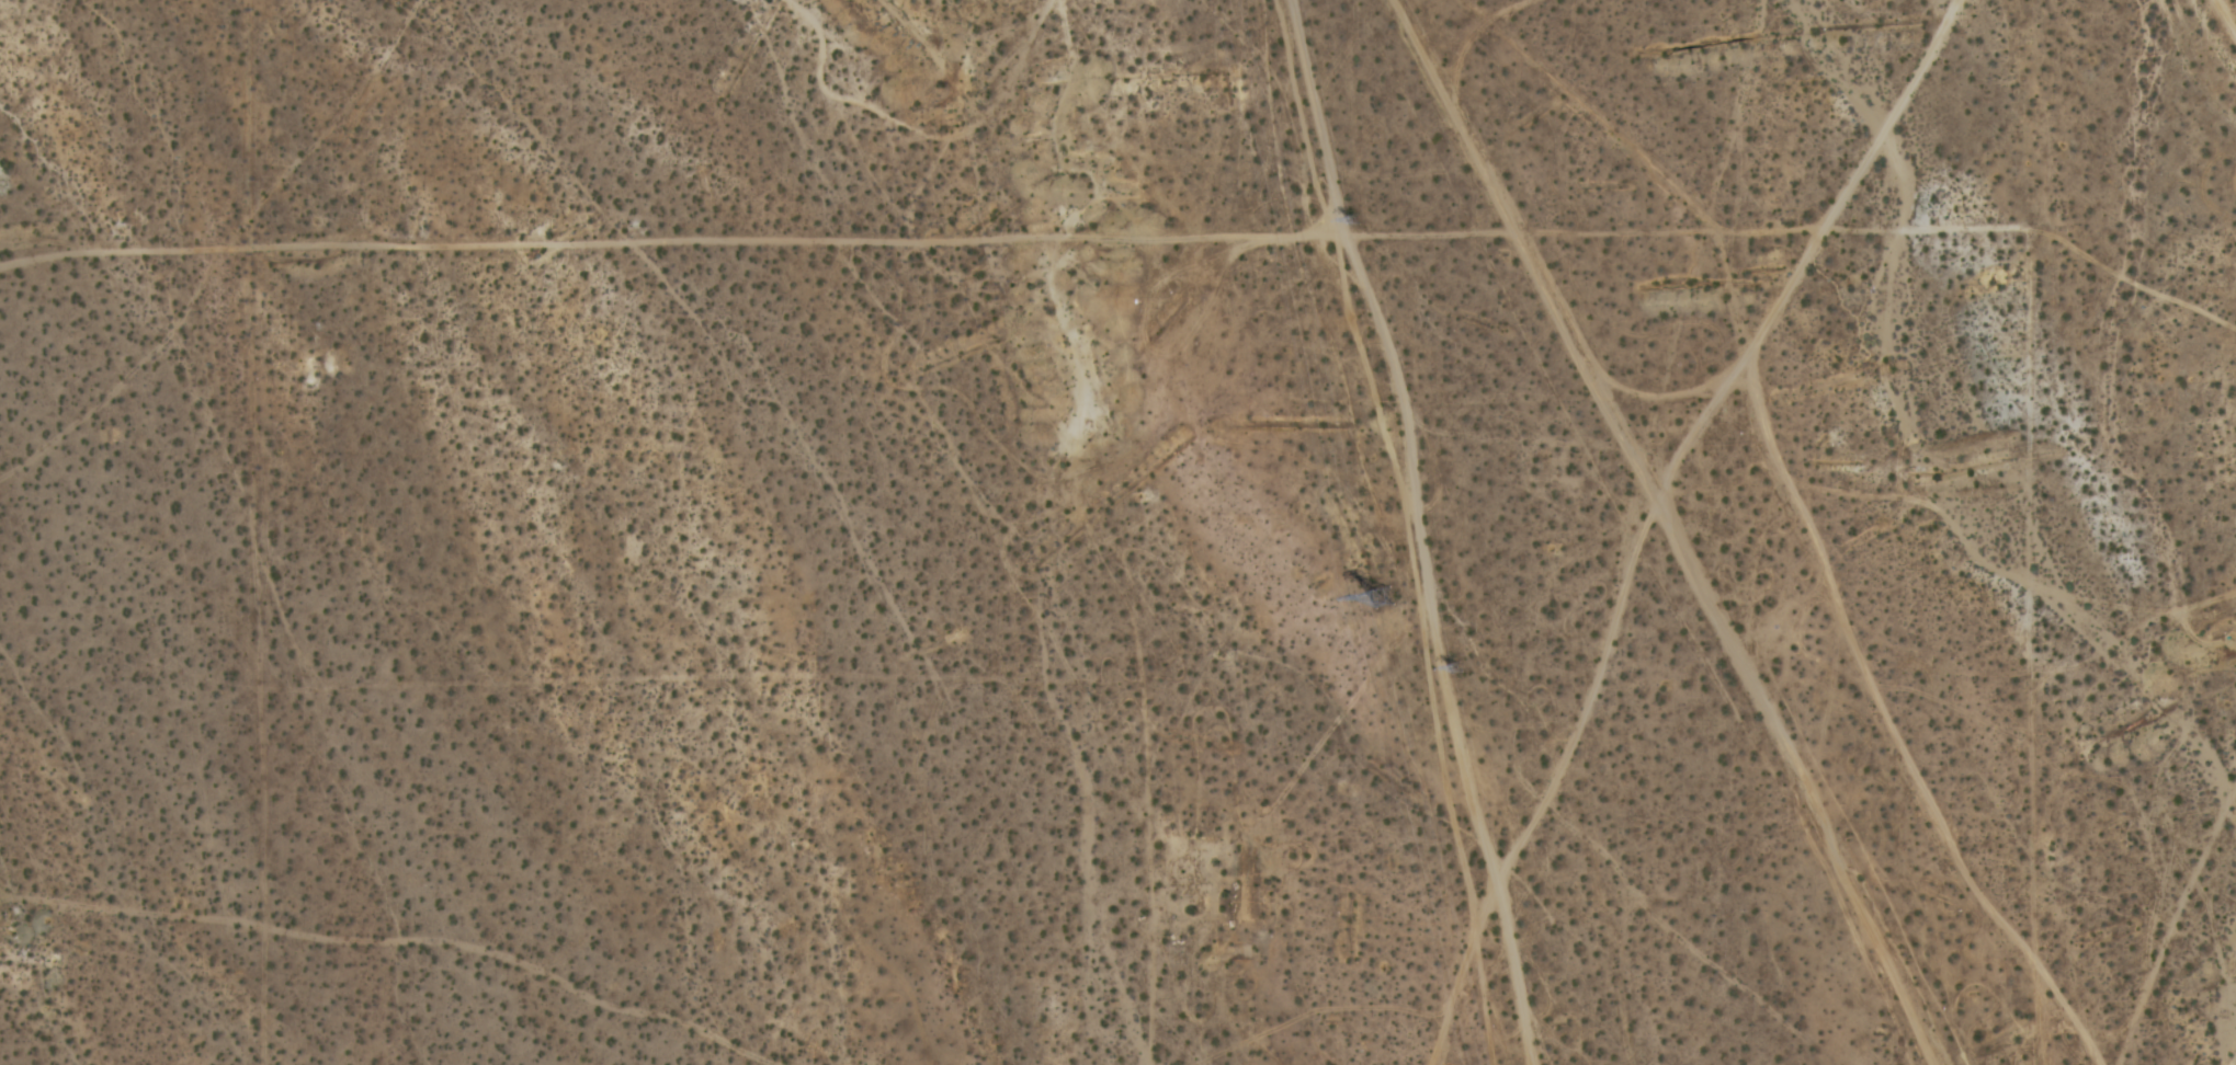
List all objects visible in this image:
road: (2227, 14)
power tower: (1362, 227)
road: (1695, 425)
road: (1412, 530)
power tower: (1385, 596)
power tower: (1461, 671)

